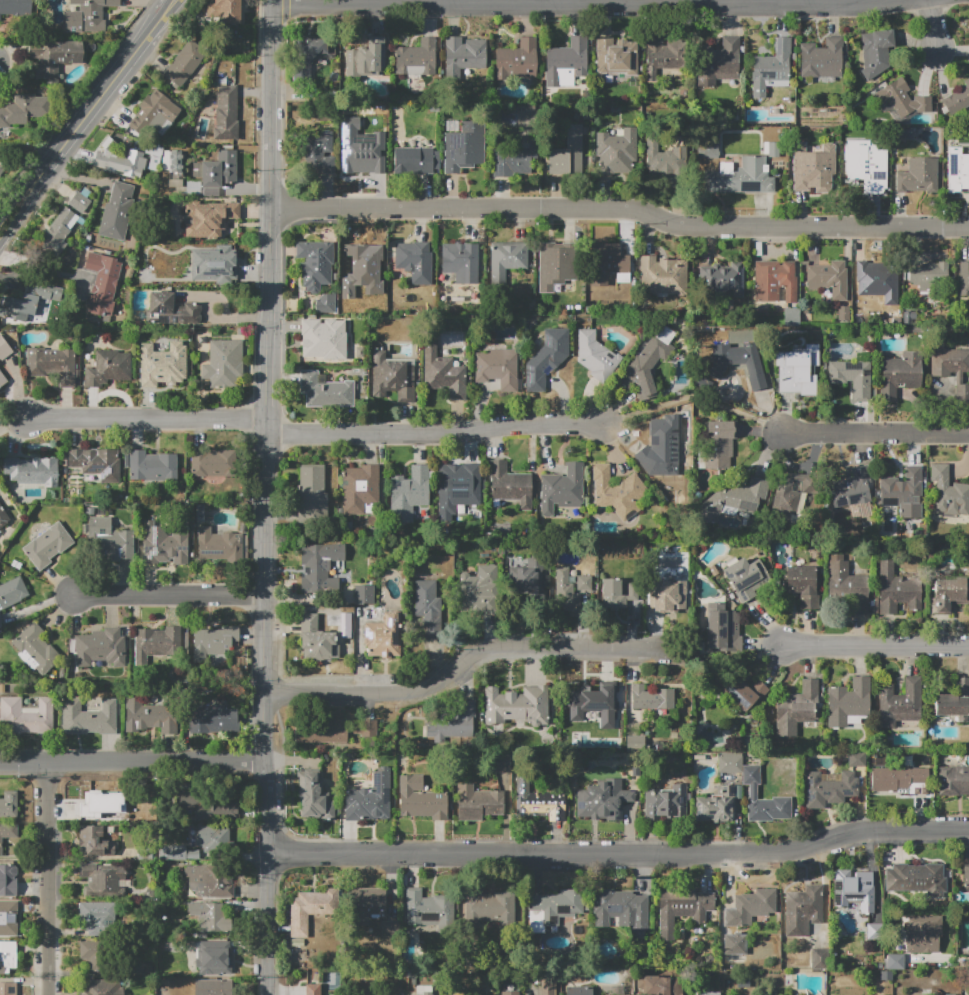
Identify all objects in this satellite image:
road: (271, 1)
road: (575, 2)
building: (16, 7)
building: (222, 11)
building: (87, 15)
road: (164, 22)
road: (933, 24)
building: (316, 49)
building: (55, 56)
building: (463, 56)
building: (615, 56)
building: (664, 56)
building: (365, 58)
building: (416, 58)
building: (822, 58)
building: (516, 60)
building: (718, 61)
building: (185, 63)
building: (566, 63)
building: (771, 68)
building: (958, 99)
building: (901, 100)
building: (23, 109)
building: (159, 110)
building: (226, 111)
road: (73, 139)
building: (462, 145)
building: (361, 147)
building: (706, 149)
building: (771, 149)
building: (616, 151)
building: (319, 152)
building: (569, 154)
building: (154, 156)
building: (513, 158)
building: (666, 159)
building: (121, 160)
building: (415, 160)
building: (868, 162)
building: (173, 166)
building: (813, 167)
building: (2, 169)
building: (217, 169)
building: (957, 170)
building: (918, 176)
building: (742, 177)
building: (193, 188)
building: (79, 202)
road: (620, 210)
building: (116, 211)
road: (269, 214)
building: (209, 218)
building: (58, 232)
building: (363, 257)
building: (506, 260)
building: (461, 261)
building: (415, 262)
building: (608, 263)
building: (315, 264)
building: (555, 265)
building: (214, 267)
road: (40, 269)
building: (875, 275)
building: (663, 276)
building: (930, 276)
building: (722, 277)
building: (829, 279)
building: (964, 279)
building: (775, 280)
building: (102, 282)
building: (44, 291)
building: (352, 297)
building: (325, 304)
building: (15, 308)
building: (171, 310)
building: (857, 312)
building: (843, 313)
building: (790, 316)
building: (323, 339)
building: (4, 349)
building: (596, 356)
building: (545, 357)
building: (650, 359)
building: (223, 363)
building: (52, 364)
building: (162, 364)
building: (951, 367)
building: (108, 368)
building: (499, 368)
building: (797, 370)
building: (443, 372)
building: (900, 373)
building: (392, 377)
building: (852, 377)
building: (756, 378)
building: (2, 379)
building: (325, 390)
road: (692, 397)
road: (147, 419)
road: (13, 425)
road: (875, 433)
road: (433, 434)
building: (719, 443)
building: (660, 447)
building: (95, 463)
building: (214, 464)
building: (152, 466)
building: (32, 471)
building: (509, 485)
building: (358, 487)
building: (459, 488)
building: (561, 488)
building: (851, 488)
building: (900, 488)
building: (312, 491)
building: (409, 492)
building: (617, 492)
building: (948, 492)
building: (791, 496)
building: (743, 497)
building: (3, 518)
building: (109, 540)
building: (163, 541)
building: (47, 545)
building: (219, 545)
building: (320, 566)
building: (742, 578)
building: (522, 582)
building: (846, 583)
building: (805, 585)
building: (570, 587)
building: (477, 589)
building: (897, 590)
building: (12, 592)
building: (364, 594)
building: (617, 594)
building: (948, 594)
road: (169, 596)
building: (667, 597)
building: (428, 608)
building: (0, 623)
building: (721, 628)
building: (317, 638)
building: (376, 638)
building: (214, 641)
building: (156, 643)
road: (877, 646)
building: (101, 647)
building: (36, 649)
road: (464, 661)
road: (728, 662)
building: (746, 693)
building: (651, 698)
building: (953, 701)
building: (848, 702)
building: (594, 703)
building: (899, 703)
building: (517, 705)
building: (797, 708)
road: (265, 711)
building: (26, 715)
building: (150, 715)
building: (89, 717)
building: (212, 719)
building: (454, 726)
building: (364, 727)
building: (321, 732)
building: (634, 743)
building: (857, 759)
building: (730, 763)
road: (133, 764)
building: (900, 780)
building: (953, 780)
building: (829, 788)
building: (753, 791)
building: (315, 797)
building: (370, 799)
building: (421, 799)
building: (603, 800)
building: (540, 802)
building: (666, 802)
building: (102, 803)
building: (478, 803)
building: (8, 804)
building: (207, 805)
building: (716, 806)
building: (7, 833)
building: (210, 837)
building: (92, 840)
building: (176, 853)
road: (619, 854)
building: (914, 876)
building: (966, 876)
road: (48, 879)
building: (211, 879)
building: (8, 880)
building: (104, 880)
building: (853, 889)
building: (367, 903)
building: (753, 905)
building: (486, 907)
building: (427, 908)
building: (554, 908)
building: (310, 909)
building: (683, 910)
building: (802, 910)
building: (621, 911)
building: (97, 917)
building: (211, 917)
building: (8, 918)
building: (388, 928)
building: (873, 931)
building: (923, 933)
building: (961, 937)
building: (731, 942)
building: (91, 953)
building: (216, 955)
building: (7, 956)
building: (818, 958)
building: (895, 961)
road: (947, 962)
building: (410, 973)
building: (885, 975)
building: (328, 980)
building: (779, 980)
building: (742, 982)
building: (659, 985)
building: (614, 986)
building: (99, 987)
building: (213, 987)
building: (7, 989)
building: (310, 989)
building: (422, 990)
building: (577, 991)
building: (508, 992)
building: (708, 993)
building: (447, 994)

